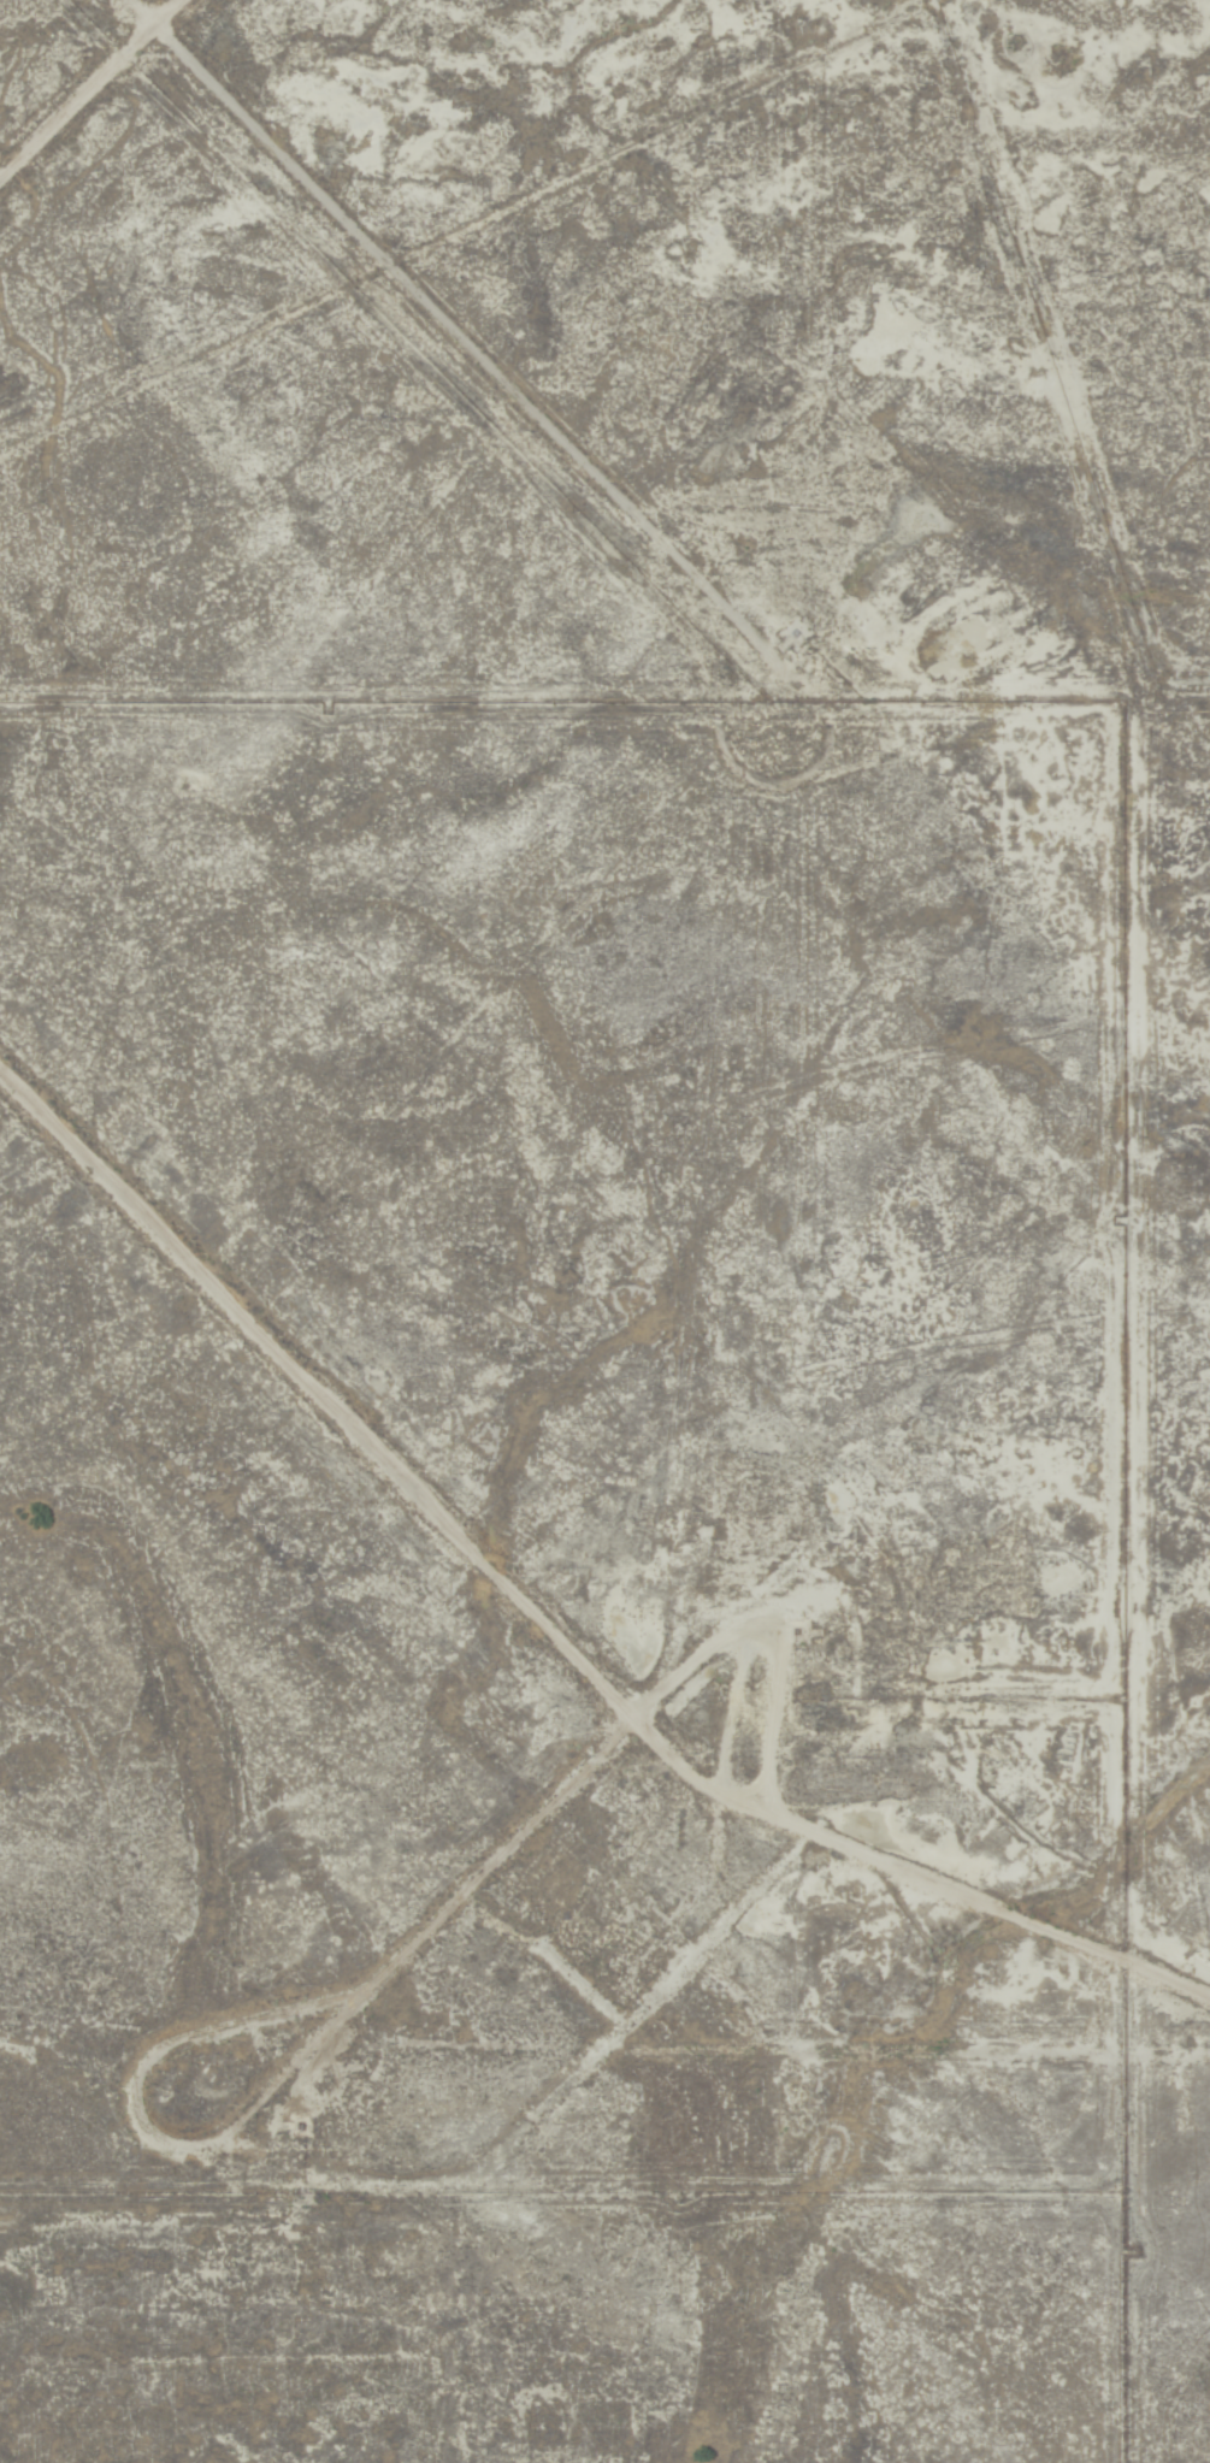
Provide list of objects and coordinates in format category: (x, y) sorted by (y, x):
road: (89, 84)
road: (408, 302)
road: (958, 1505)
road: (560, 1634)
road: (601, 1752)
road: (259, 2015)

